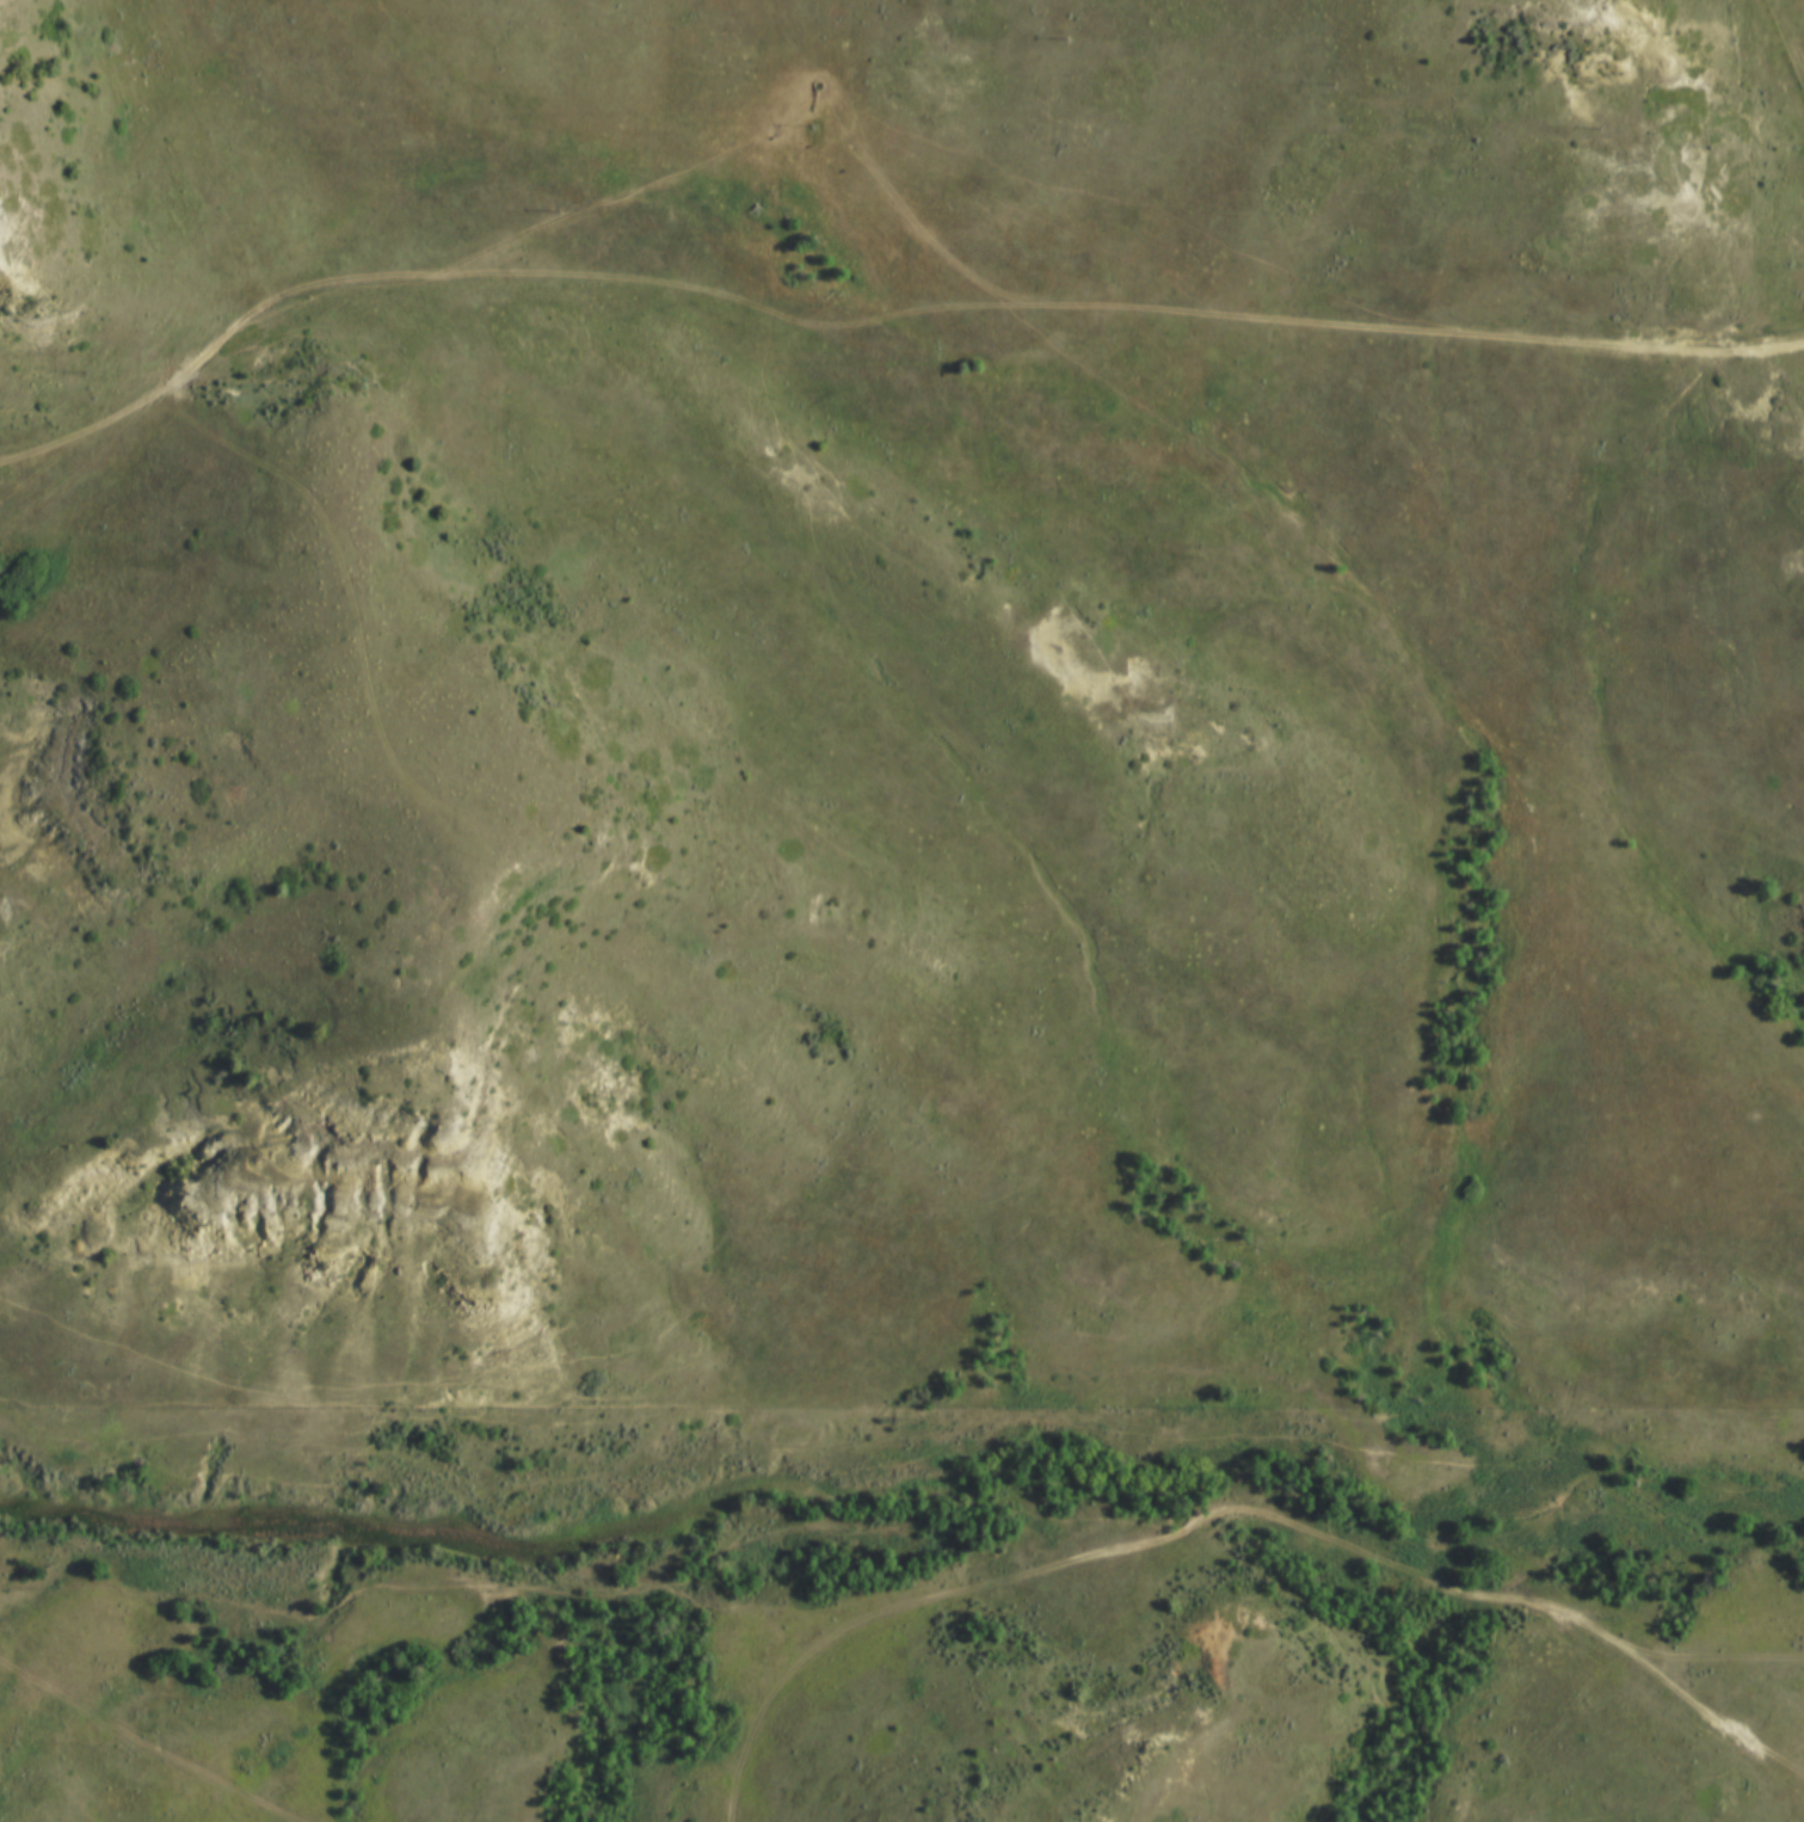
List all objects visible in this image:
road: (875, 307)

